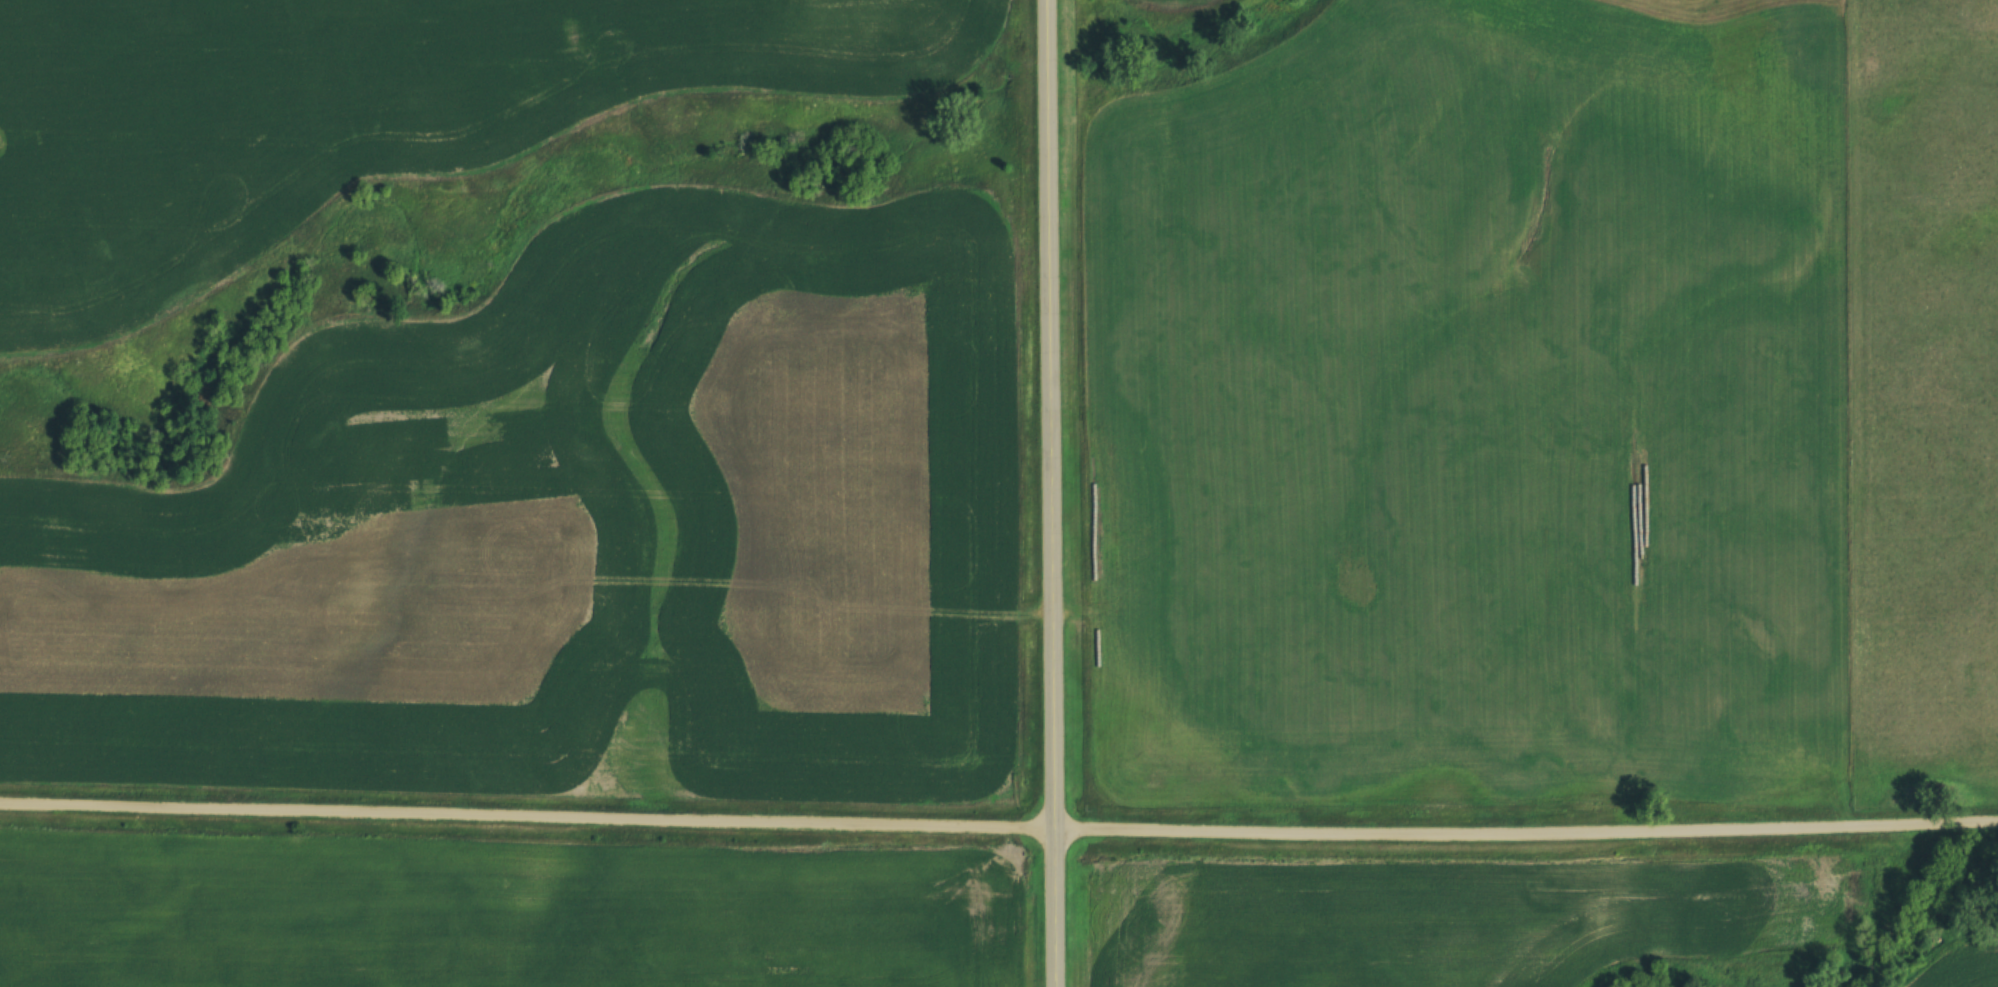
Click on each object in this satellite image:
road: (1052, 493)
road: (998, 826)

